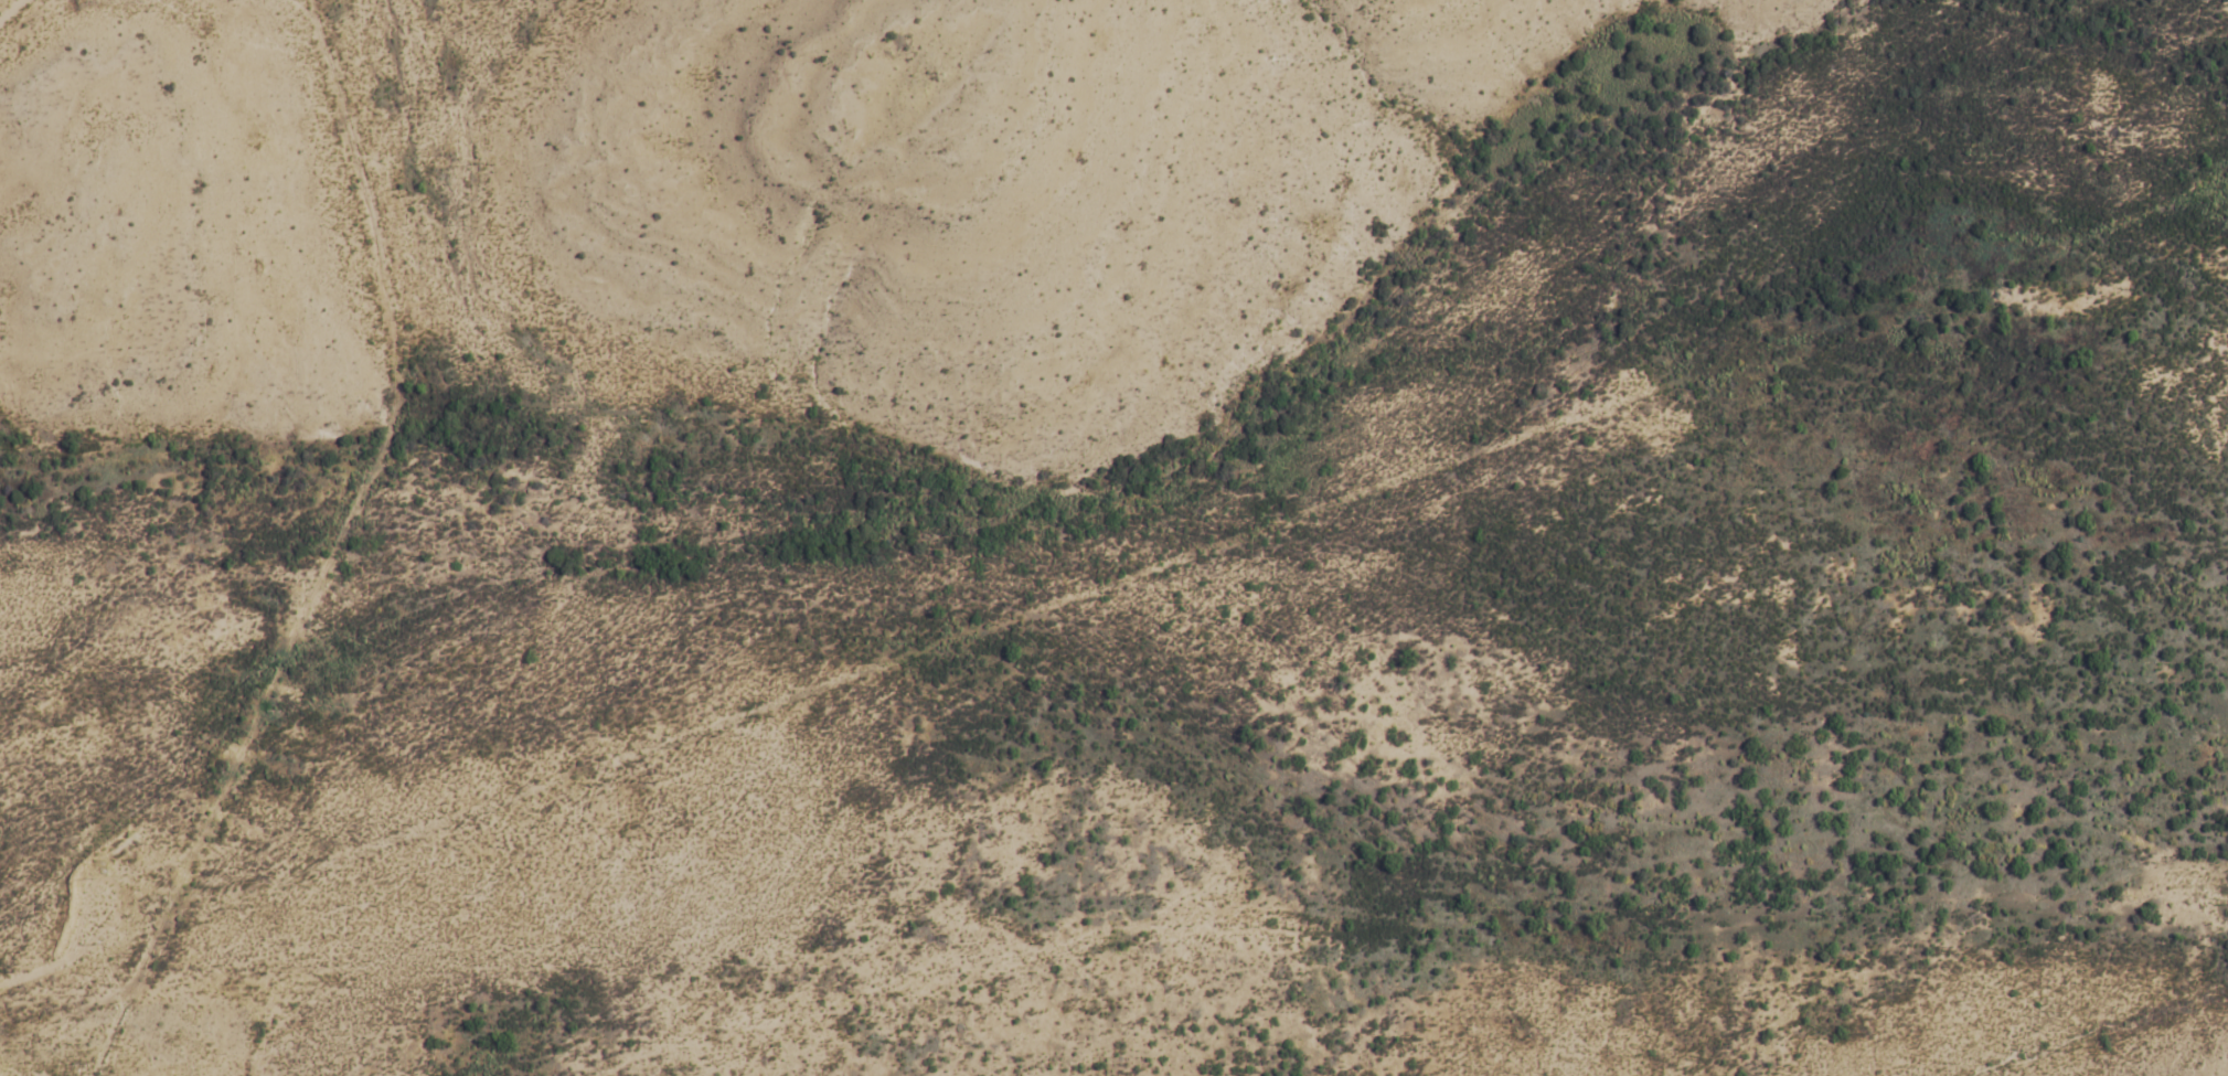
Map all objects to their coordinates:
road: (9, 9)
road: (373, 550)

